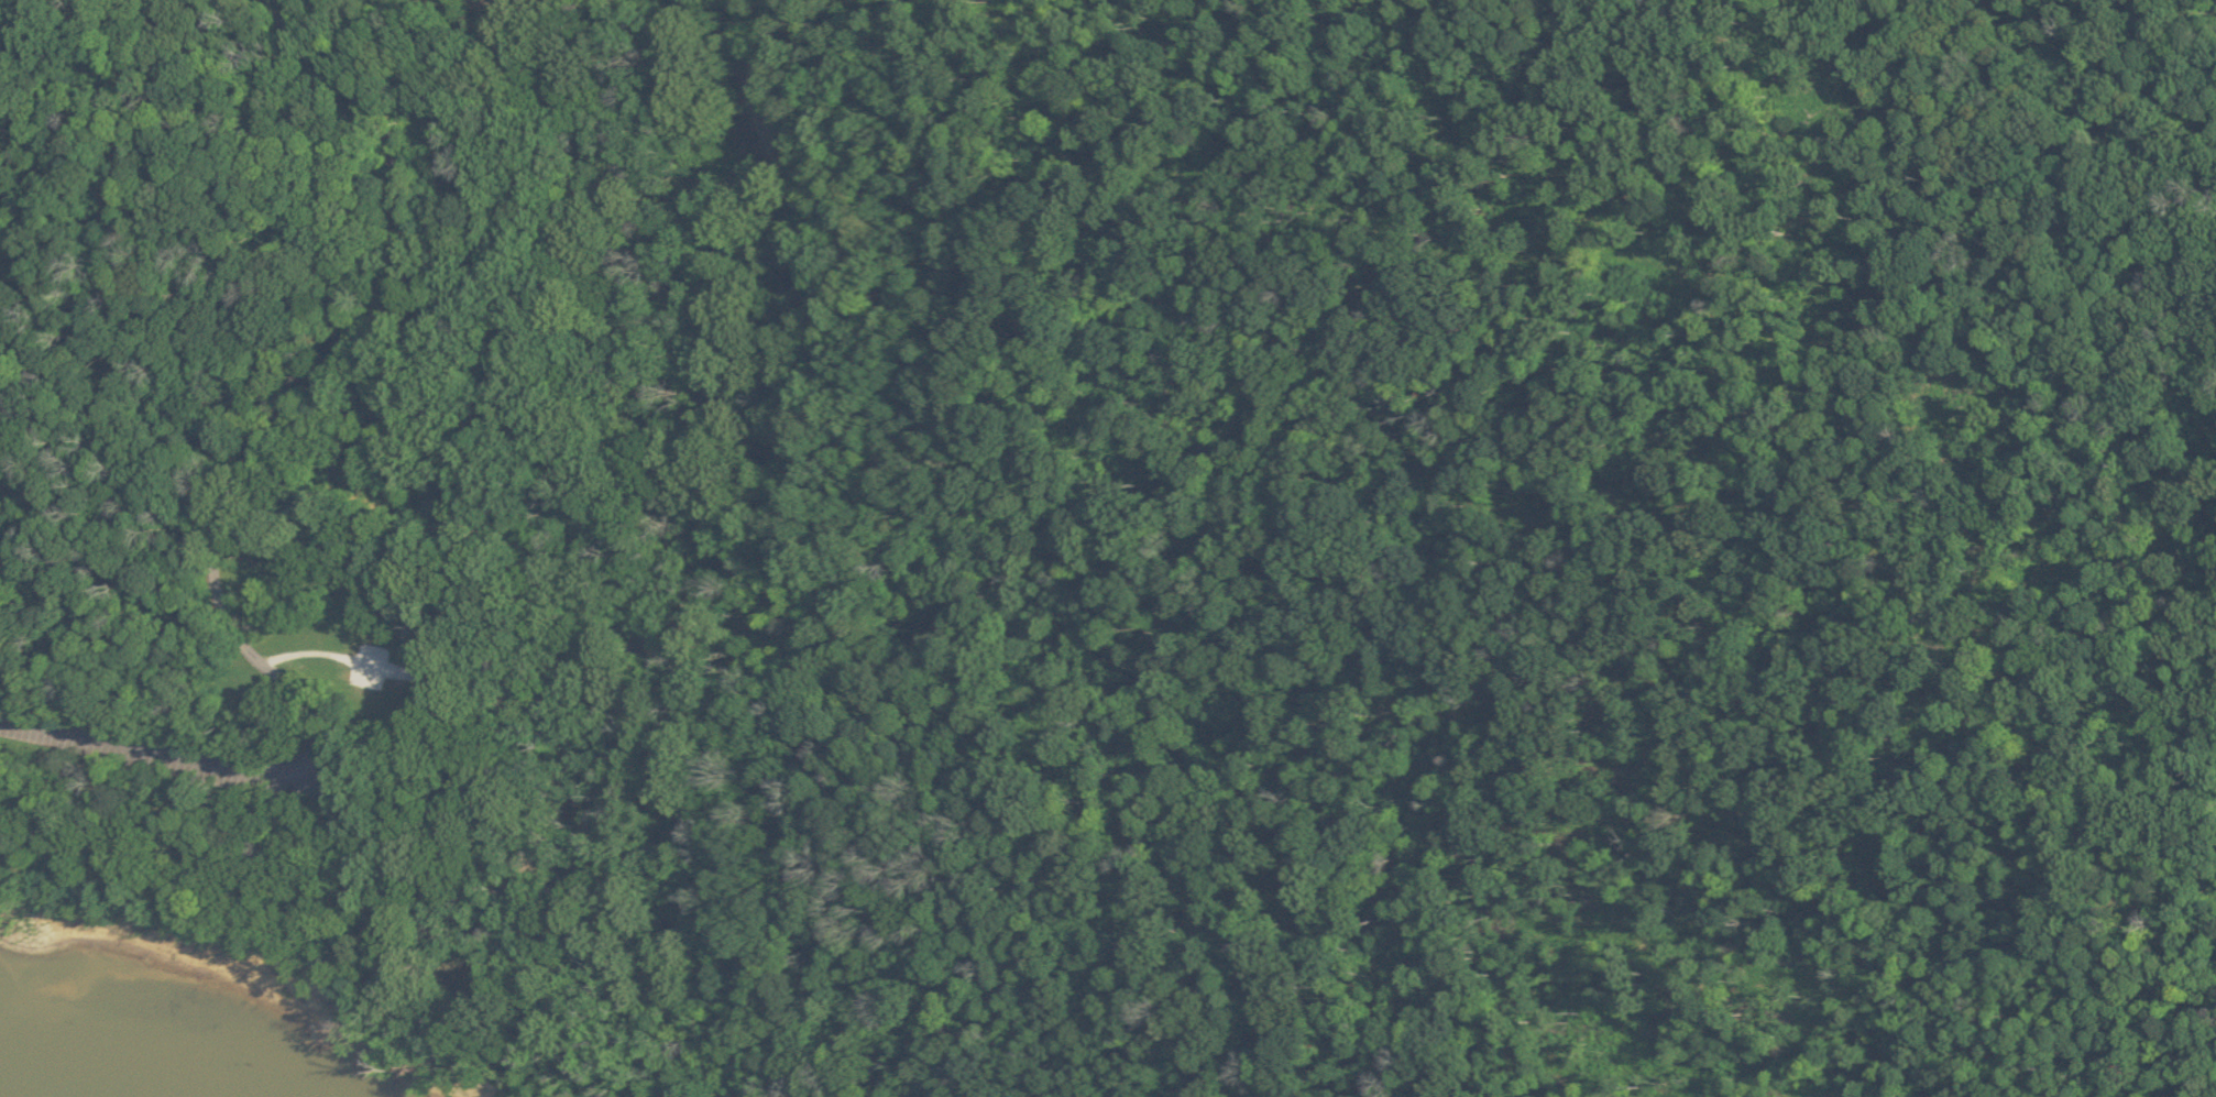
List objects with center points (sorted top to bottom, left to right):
road: (2037, 28)
road: (248, 109)
road: (1192, 155)
road: (1522, 309)
road: (826, 436)
road: (277, 443)
road: (242, 478)
park: (351, 487)
road: (331, 656)
road: (160, 757)

